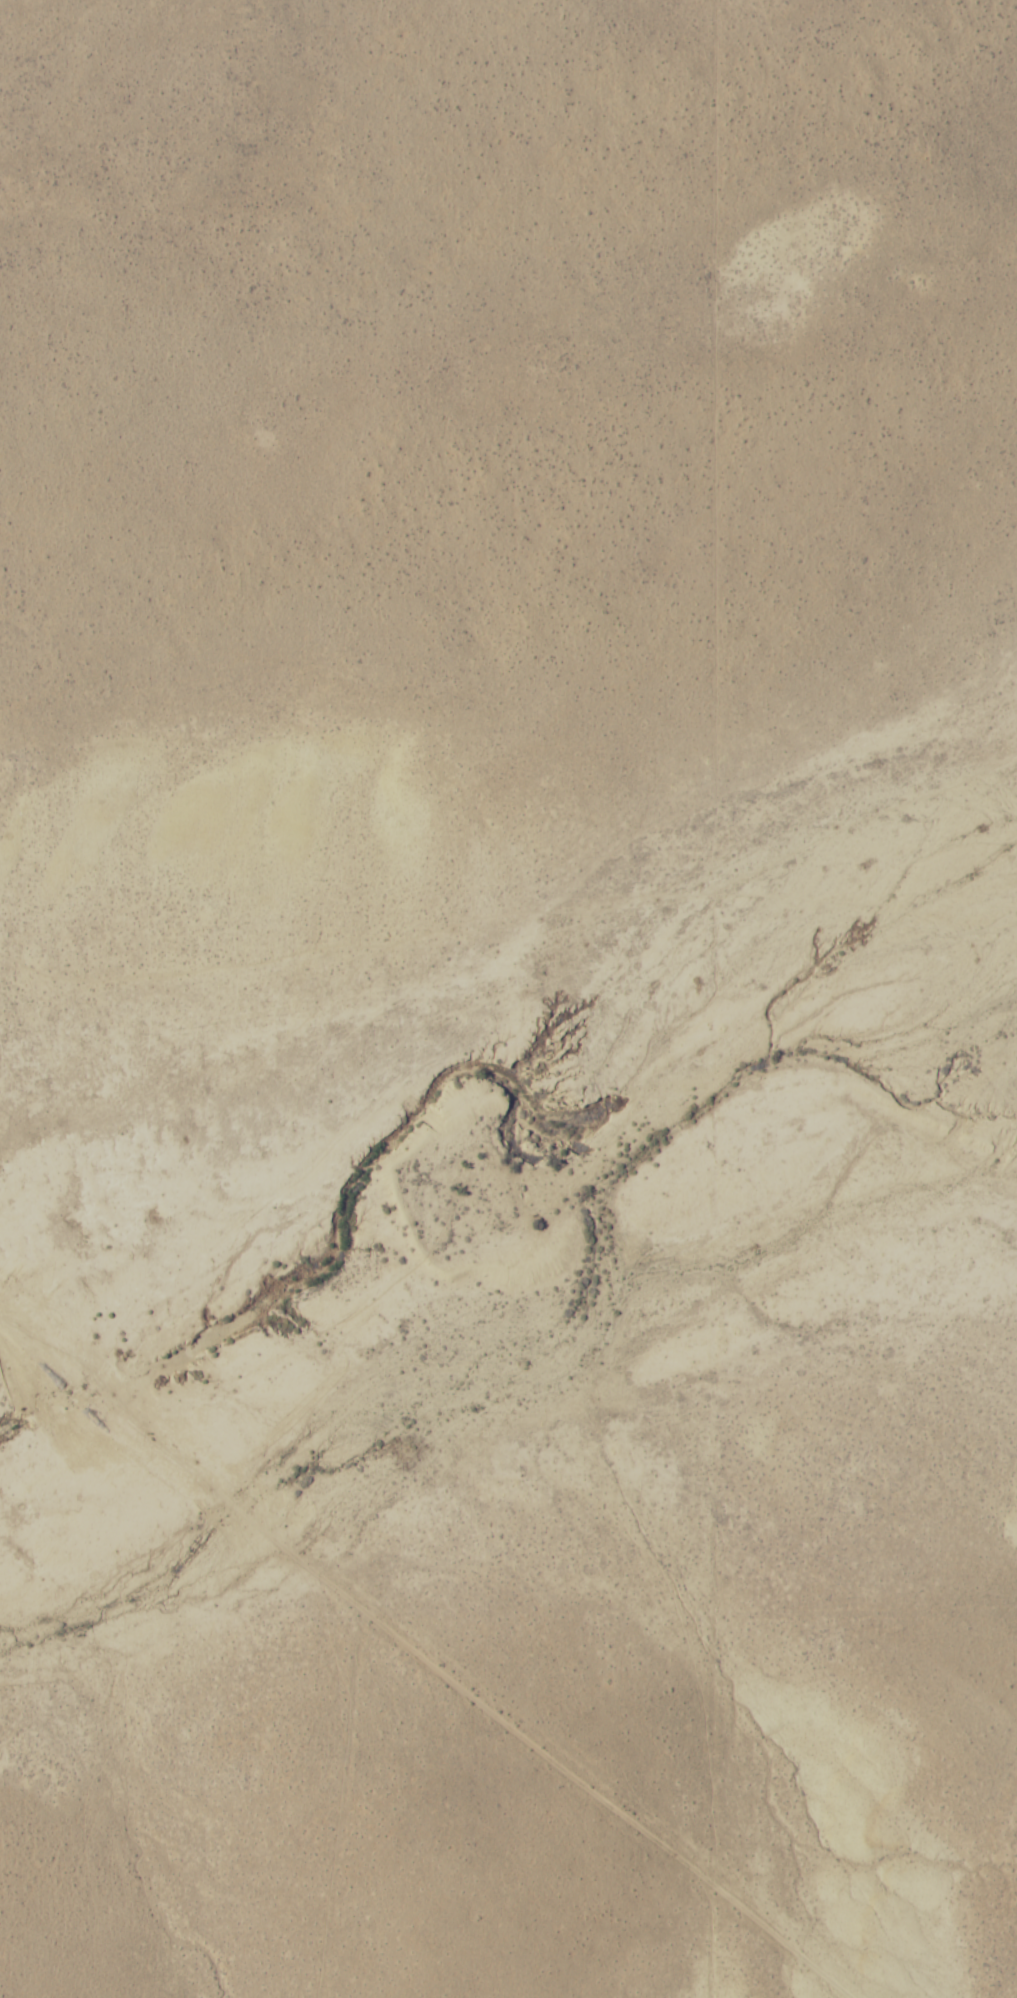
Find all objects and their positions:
road: (450, 958)

